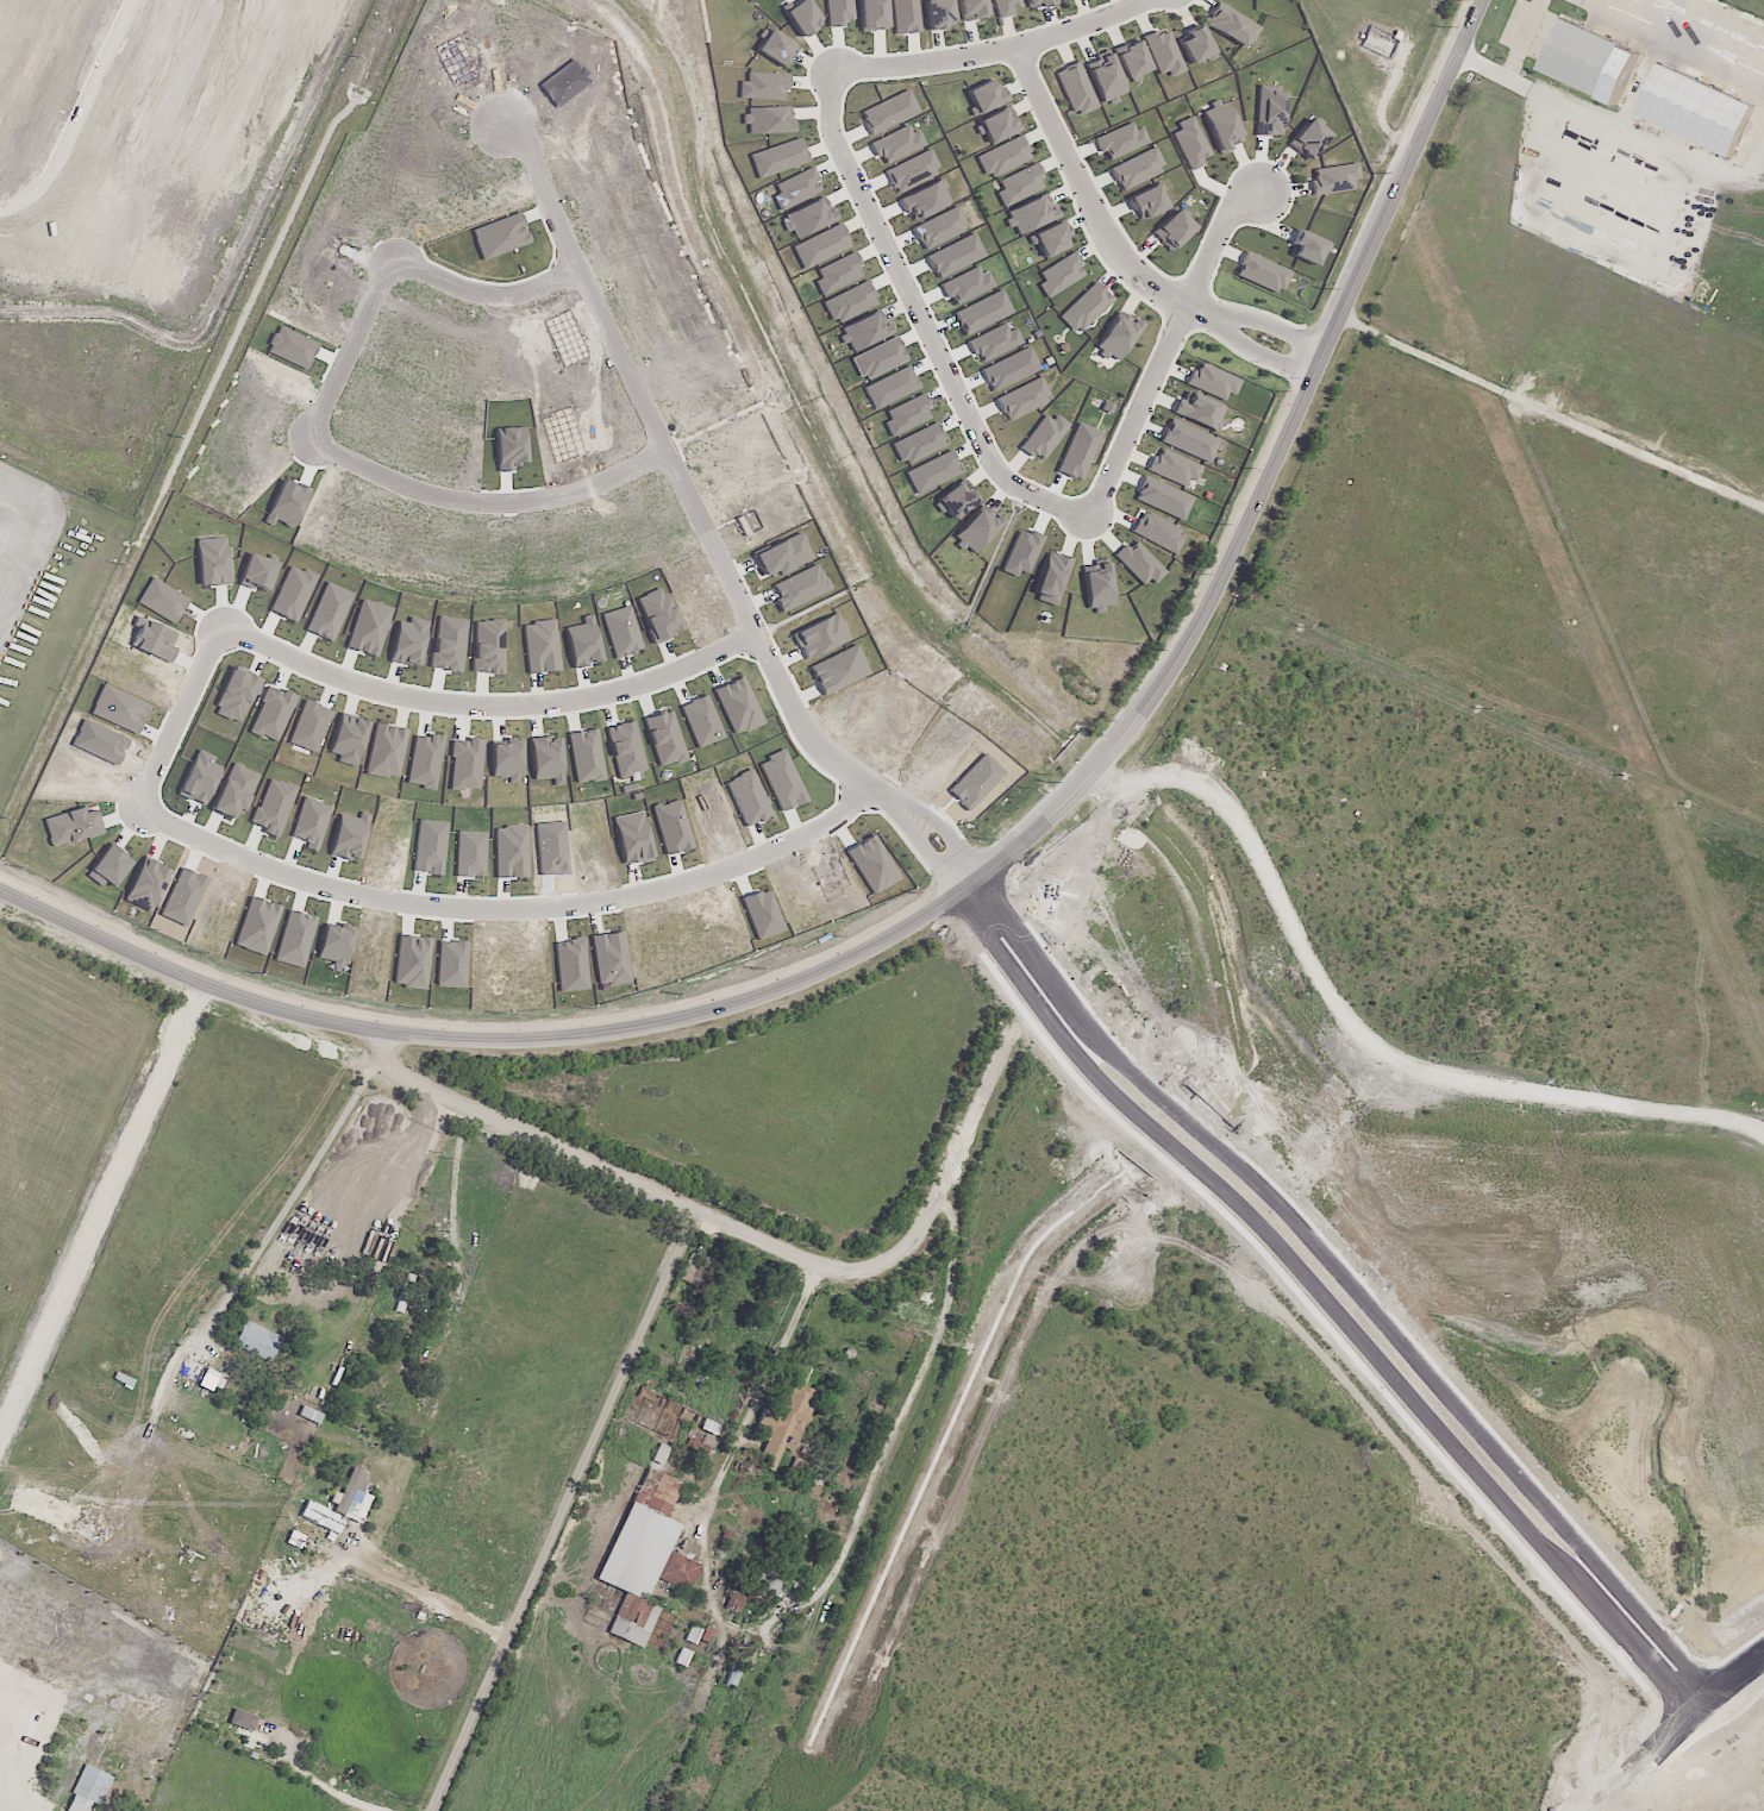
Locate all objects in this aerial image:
building: (1038, 4)
building: (1005, 7)
building: (971, 8)
building: (838, 12)
building: (938, 13)
building: (871, 14)
building: (906, 17)
building: (801, 18)
building: (1232, 25)
building: (1195, 44)
building: (775, 48)
road: (992, 50)
building: (1164, 52)
road: (1512, 59)
building: (1132, 61)
building: (1590, 61)
building: (1105, 76)
building: (764, 86)
building: (1076, 89)
building: (984, 95)
building: (1696, 109)
building: (1269, 111)
building: (889, 112)
building: (769, 119)
building: (997, 125)
building: (1221, 125)
building: (1309, 137)
building: (1120, 140)
building: (1191, 143)
building: (897, 144)
building: (1005, 156)
building: (778, 158)
building: (1137, 169)
building: (912, 170)
building: (1334, 178)
building: (1019, 184)
building: (796, 188)
road: (1091, 199)
building: (925, 200)
building: (1147, 202)
building: (1031, 213)
building: (809, 217)
building: (939, 227)
building: (1172, 230)
building: (1050, 239)
building: (820, 246)
building: (1306, 247)
building: (955, 256)
building: (1263, 272)
building: (837, 274)
building: (1059, 274)
building: (965, 284)
road: (502, 299)
building: (849, 302)
building: (1086, 308)
building: (982, 312)
road: (922, 318)
road: (1270, 322)
building: (864, 330)
building: (1116, 337)
building: (993, 341)
road: (1169, 346)
road: (1258, 350)
road: (364, 352)
building: (877, 358)
building: (1009, 369)
building: (1212, 381)
road: (1305, 394)
building: (1022, 399)
building: (1199, 411)
road: (1551, 414)
building: (906, 415)
building: (1043, 437)
building: (1189, 441)
building: (919, 444)
building: (1078, 452)
building: (1174, 468)
road: (690, 482)
building: (1163, 499)
building: (956, 500)
road: (501, 509)
building: (976, 529)
building: (1021, 552)
building: (782, 556)
building: (212, 562)
building: (1138, 563)
building: (1051, 578)
building: (800, 587)
building: (1097, 587)
building: (657, 613)
building: (621, 632)
building: (819, 635)
building: (540, 646)
building: (838, 670)
road: (1258, 672)
building: (234, 695)
road: (499, 703)
building: (738, 706)
building: (271, 714)
road: (194, 725)
building: (664, 739)
building: (625, 748)
building: (386, 751)
building: (584, 756)
building: (545, 759)
building: (424, 760)
building: (505, 760)
building: (465, 764)
road: (1427, 785)
building: (194, 789)
building: (309, 822)
road: (949, 831)
building: (348, 838)
building: (632, 838)
road: (926, 848)
building: (511, 852)
building: (146, 885)
road: (520, 906)
road: (1014, 921)
road: (1613, 925)
building: (257, 926)
road: (996, 944)
road: (1356, 955)
building: (609, 958)
building: (570, 965)
road: (573, 1035)
road: (418, 1146)
road: (293, 1195)
road: (658, 1196)
road: (452, 1201)
road: (105, 1209)
building: (695, 1270)
road: (1387, 1324)
building: (254, 1341)
road: (1369, 1346)
building: (196, 1374)
building: (667, 1404)
road: (901, 1412)
building: (309, 1415)
building: (781, 1429)
road: (744, 1433)
building: (696, 1449)
building: (340, 1504)
road: (575, 1514)
building: (89, 1529)
building: (644, 1556)
building: (767, 1590)
road: (437, 1598)
building: (733, 1603)
building: (707, 1635)
building: (736, 1665)
road: (1679, 1724)
building: (244, 1727)
road: (17, 1785)
road: (324, 1786)
building: (83, 1790)
road: (1606, 1807)

